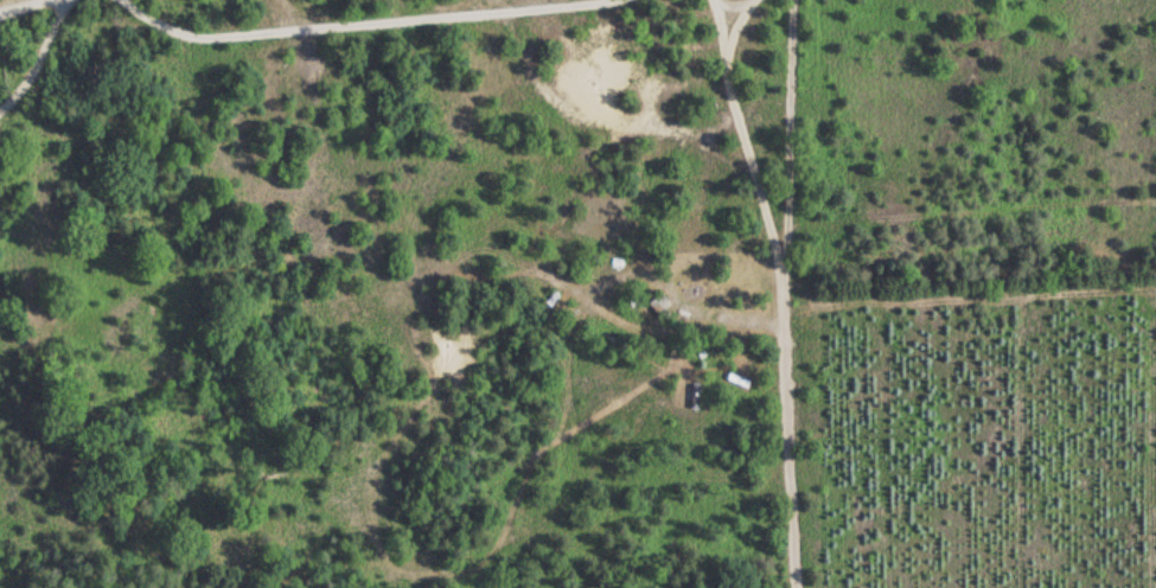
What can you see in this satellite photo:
road: (778, 294)
building: (653, 311)

